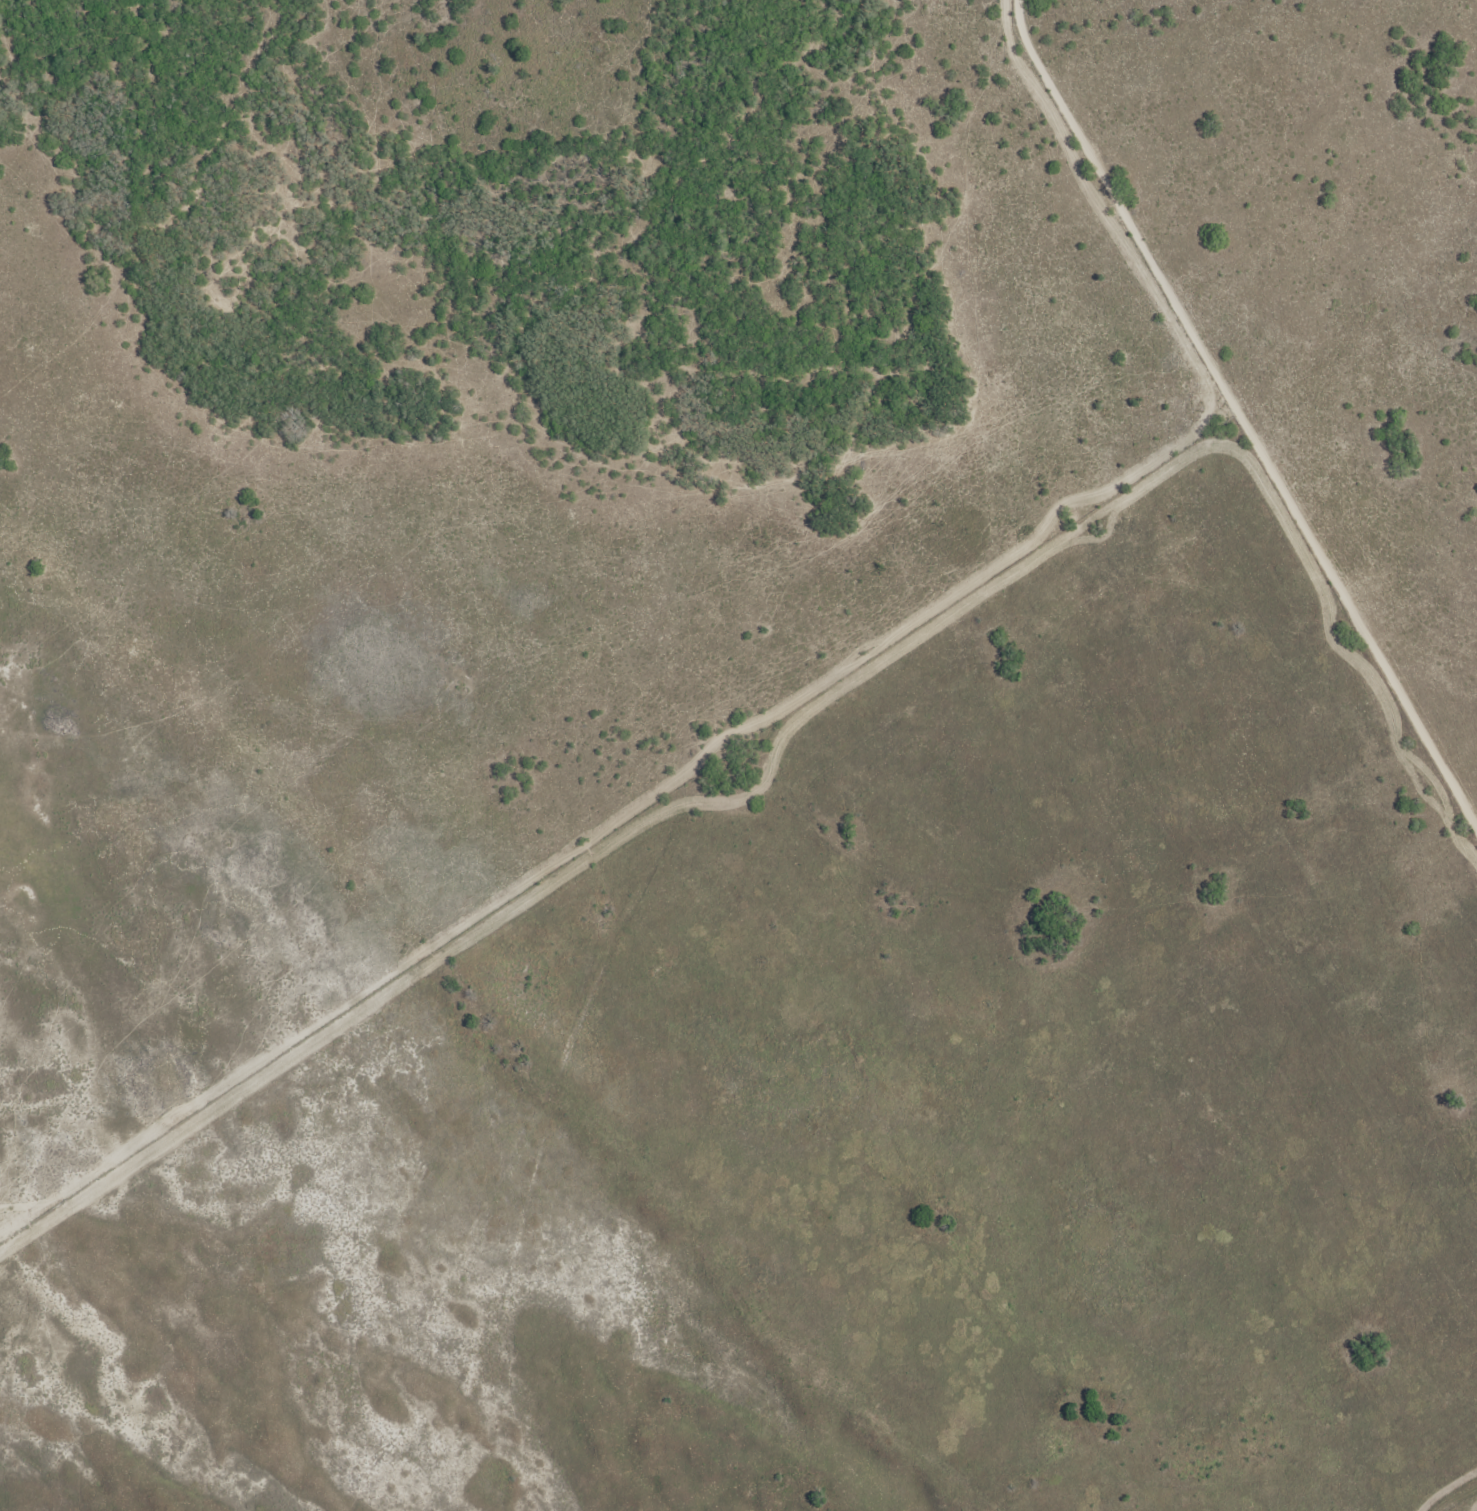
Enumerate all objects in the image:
road: (1184, 45)

